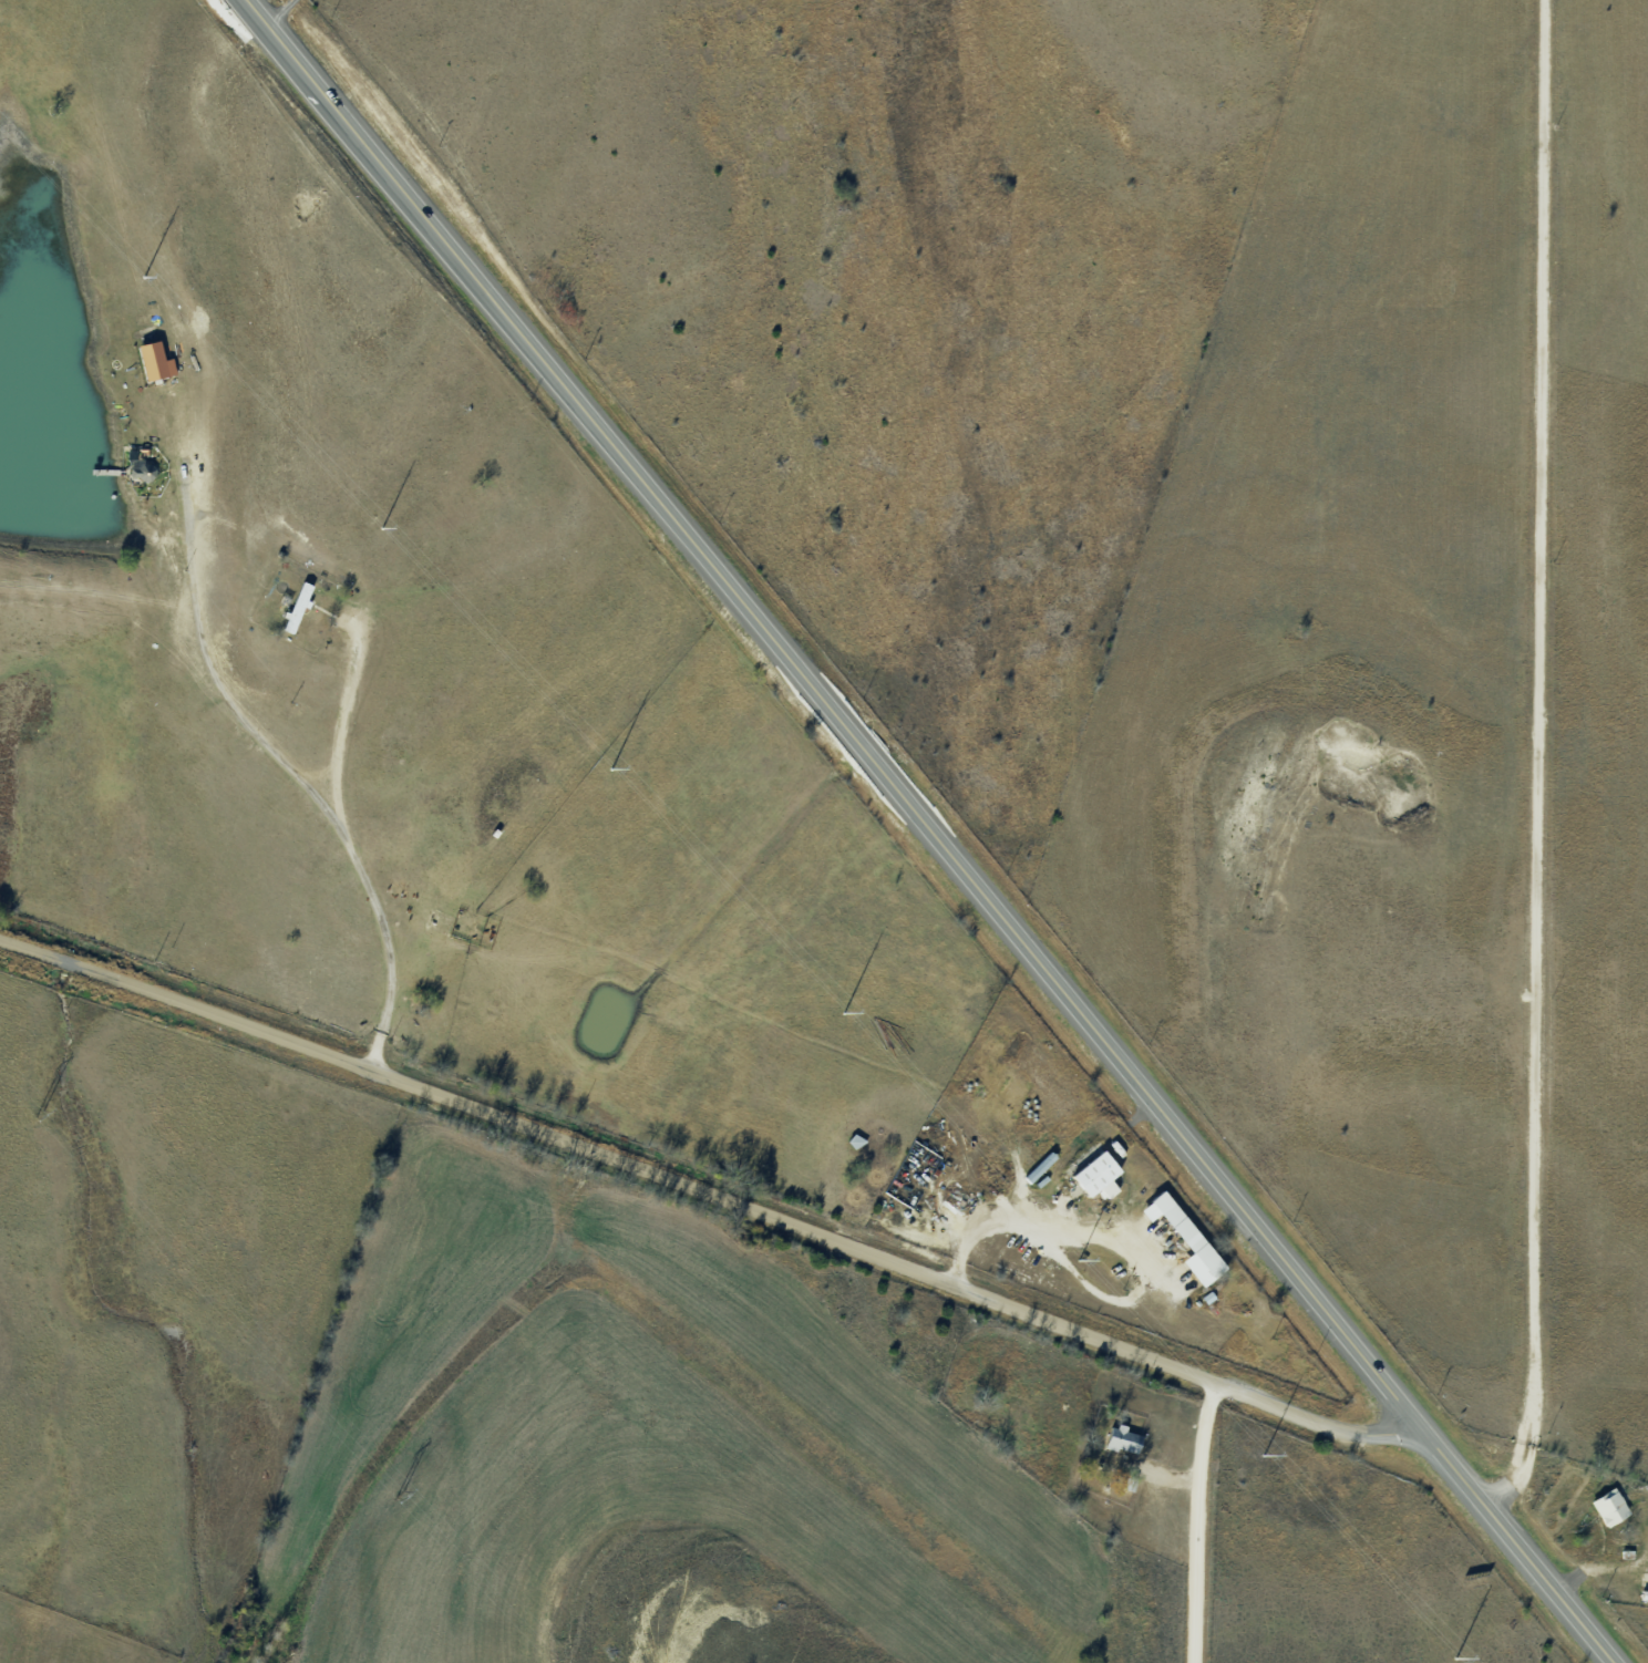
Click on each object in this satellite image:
power tower: (143, 277)
power tower: (381, 528)
building: (299, 607)
road: (1535, 761)
power tower: (610, 768)
road: (937, 830)
power tower: (843, 1013)
power tower: (39, 1113)
building: (1098, 1175)
road: (756, 1222)
building: (1188, 1233)
power tower: (1078, 1260)
building: (1209, 1311)
building: (1124, 1439)
power tower: (1264, 1455)
power tower: (399, 1495)
building: (1611, 1507)
road: (1052, 1515)
road: (1240, 1532)
building: (1645, 1595)
power tower: (1455, 1657)

